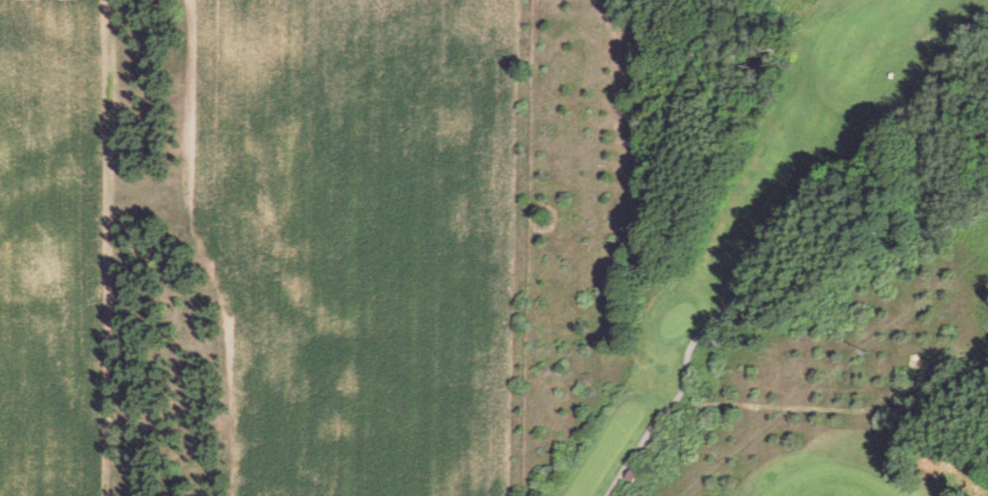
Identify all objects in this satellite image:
park: (778, 276)

